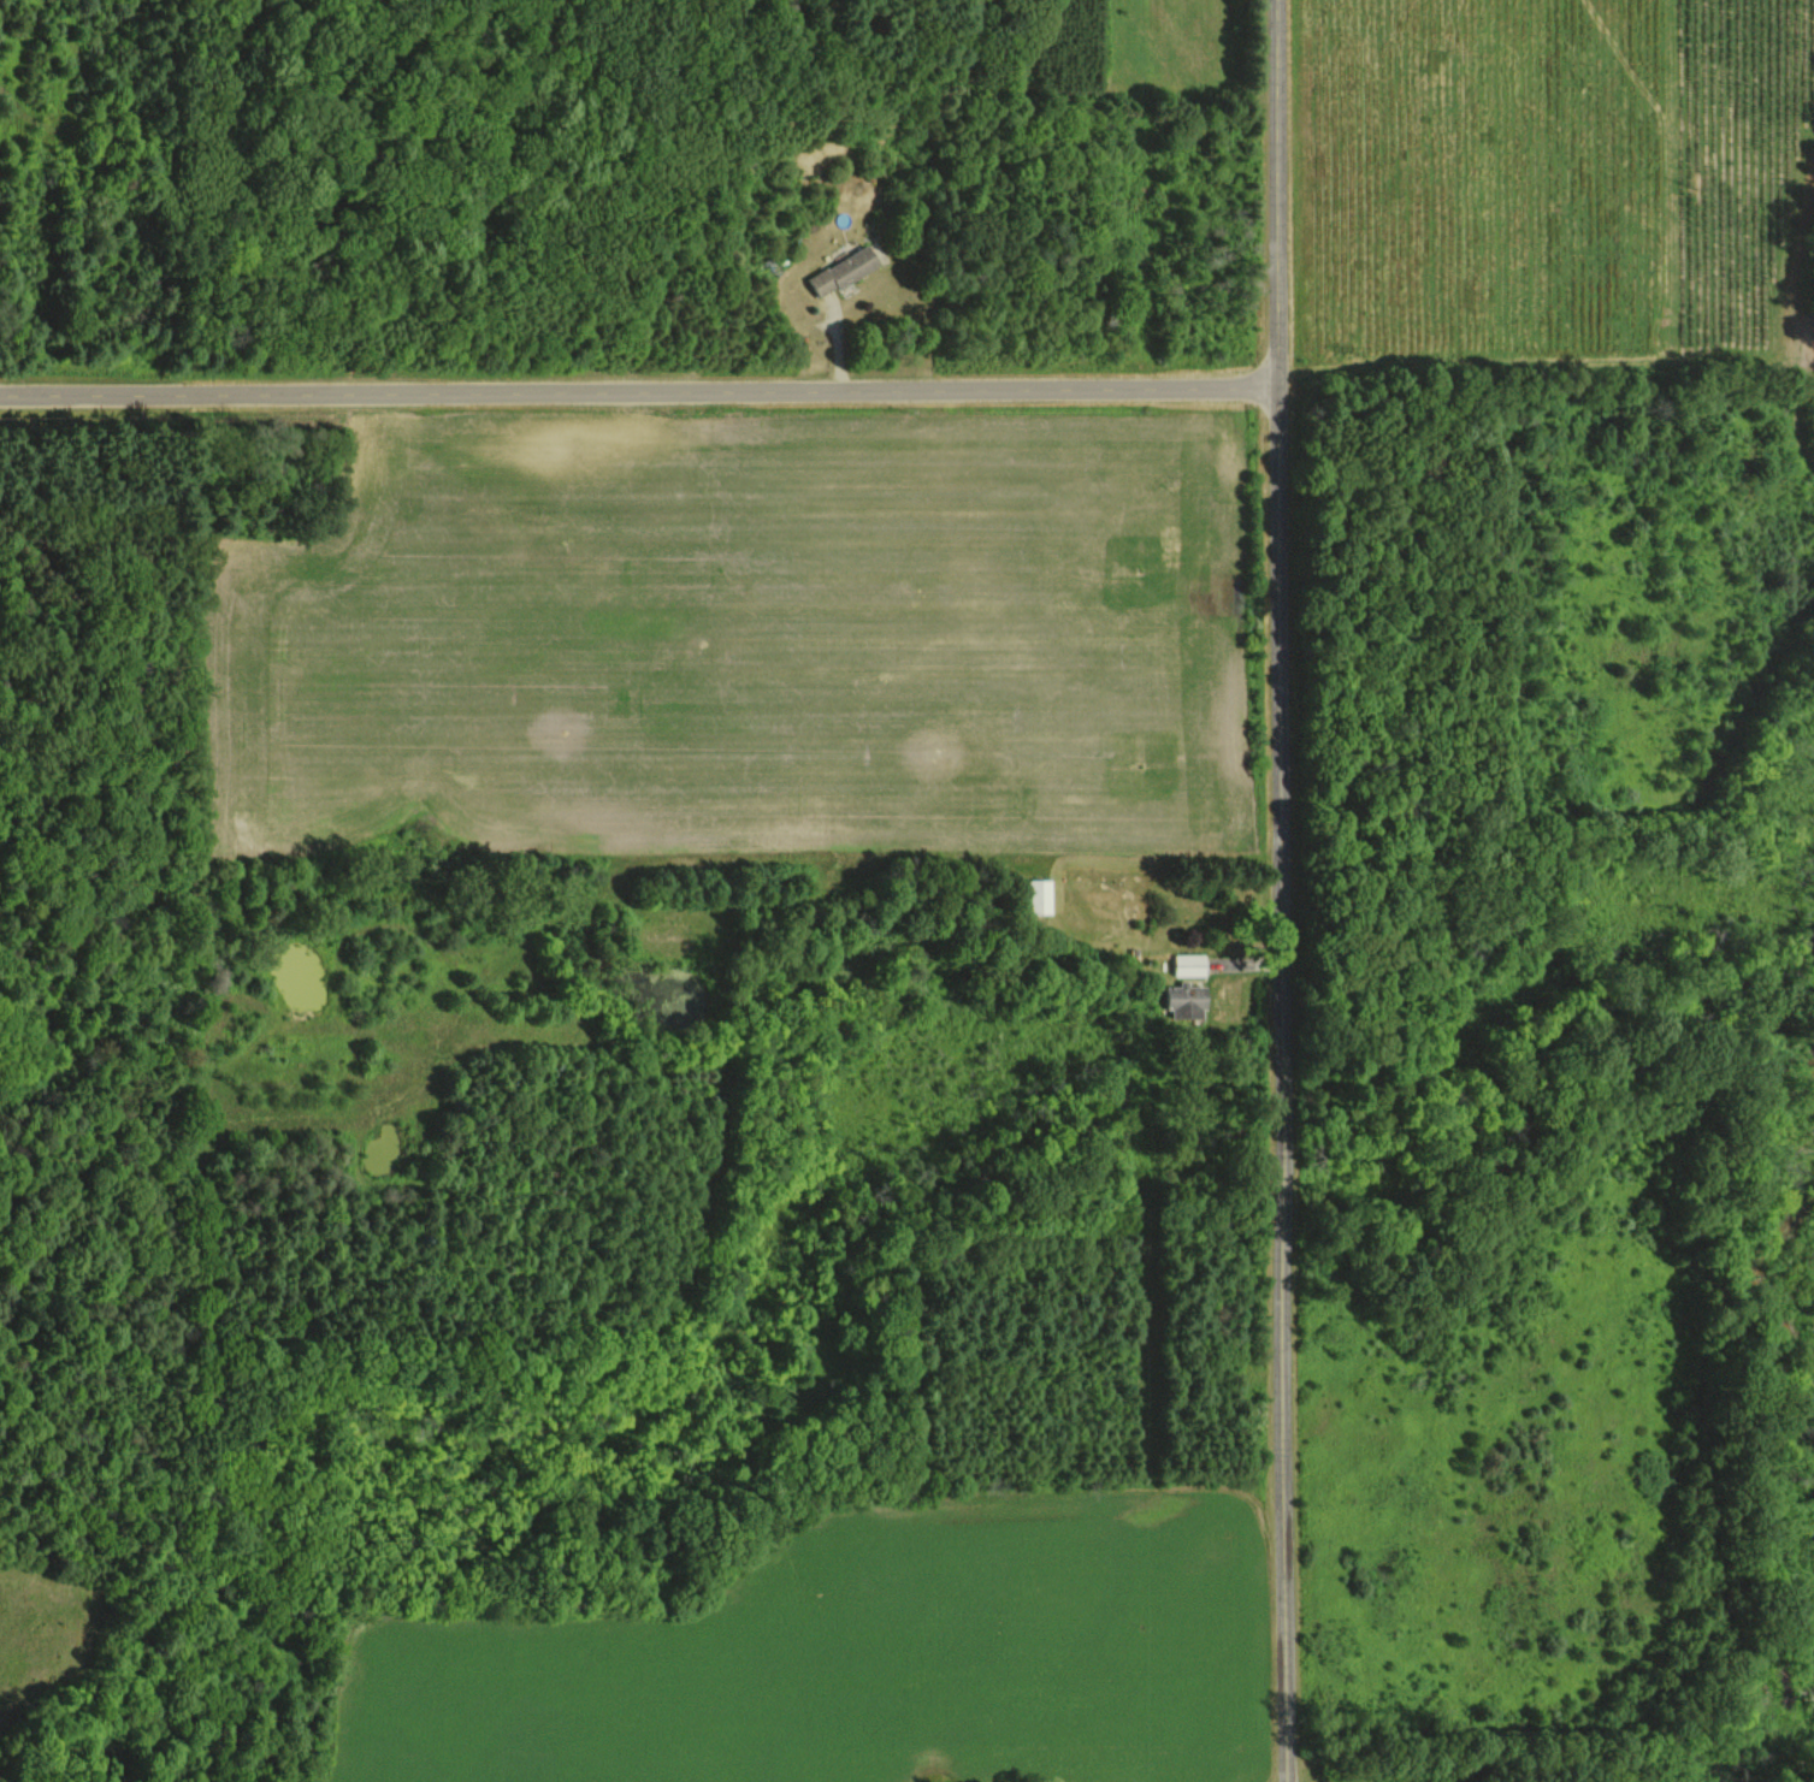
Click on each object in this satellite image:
building: (844, 271)
road: (639, 395)
road: (1280, 890)
building: (1039, 895)
building: (1188, 964)
building: (1184, 1000)

